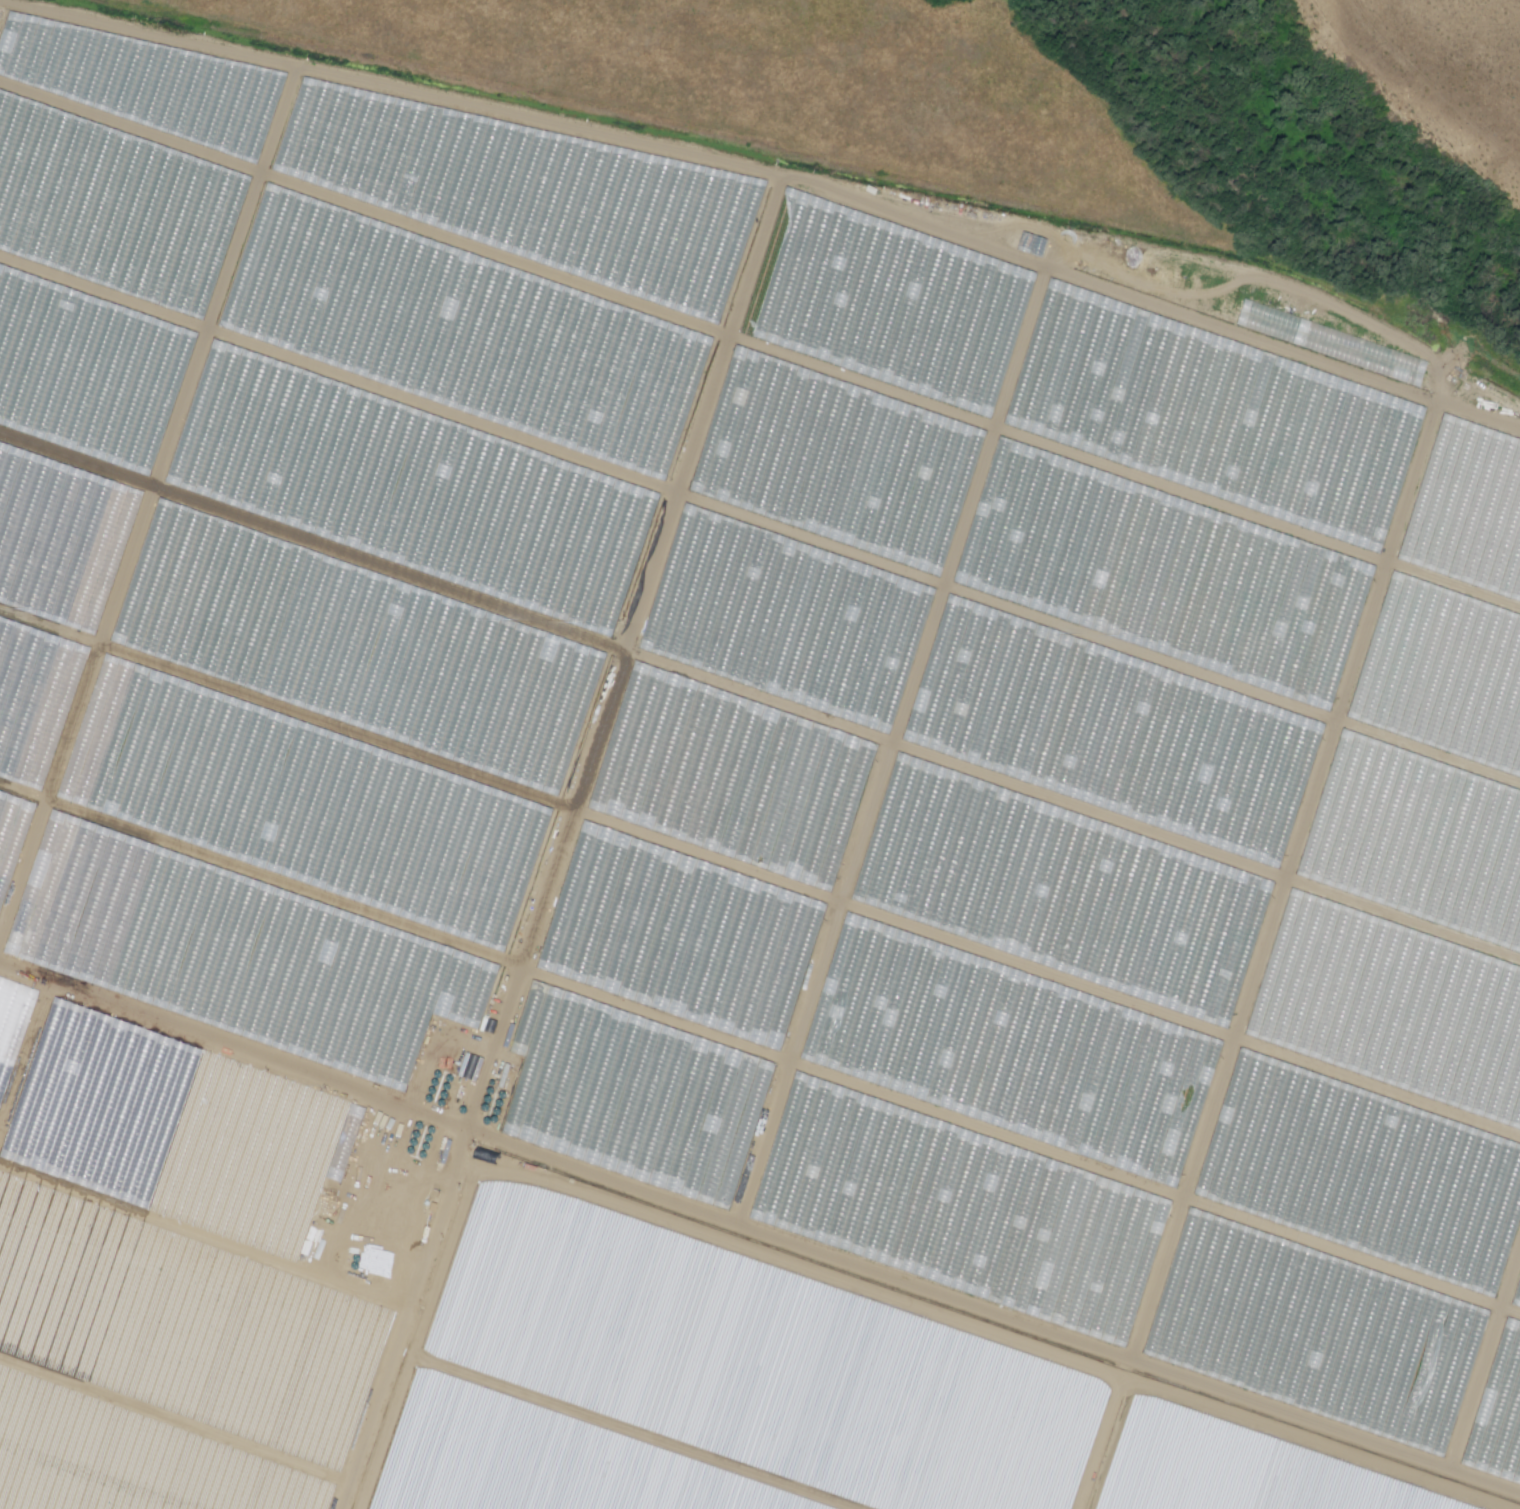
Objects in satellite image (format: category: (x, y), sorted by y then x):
crop: (357, 304)
crop: (1119, 541)
crop: (264, 779)
crop: (1030, 1065)
crop: (187, 1267)
crop: (774, 1346)
crop: (593, 1446)
crop: (1243, 1470)
crop: (385, 1505)
crop: (7, 1506)

